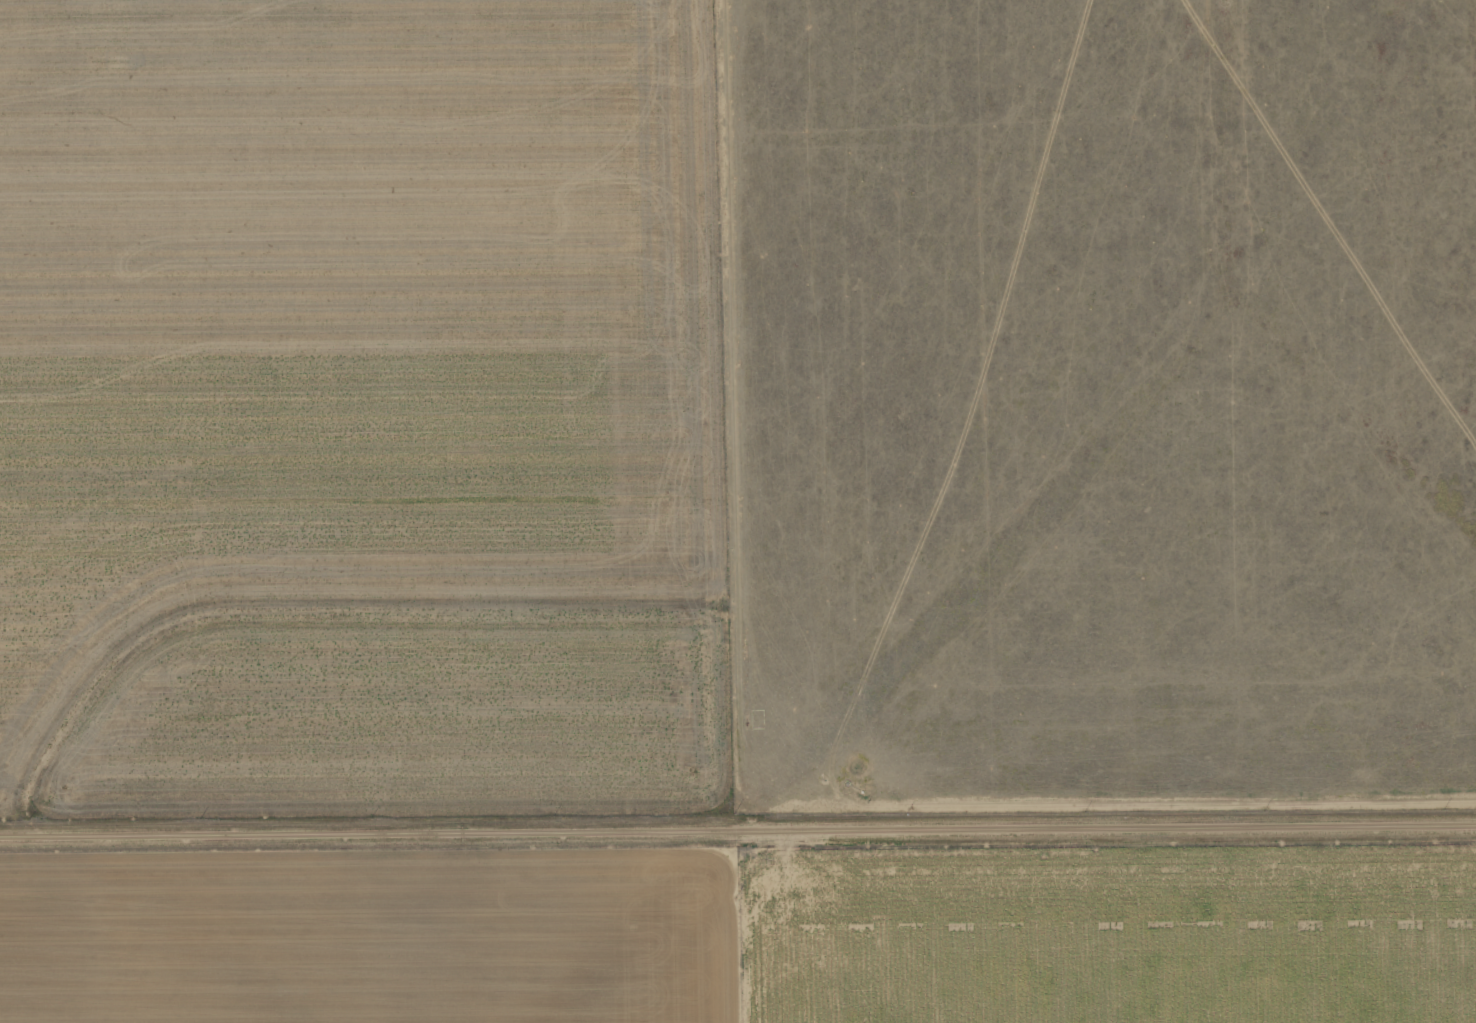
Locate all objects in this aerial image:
road: (738, 828)

